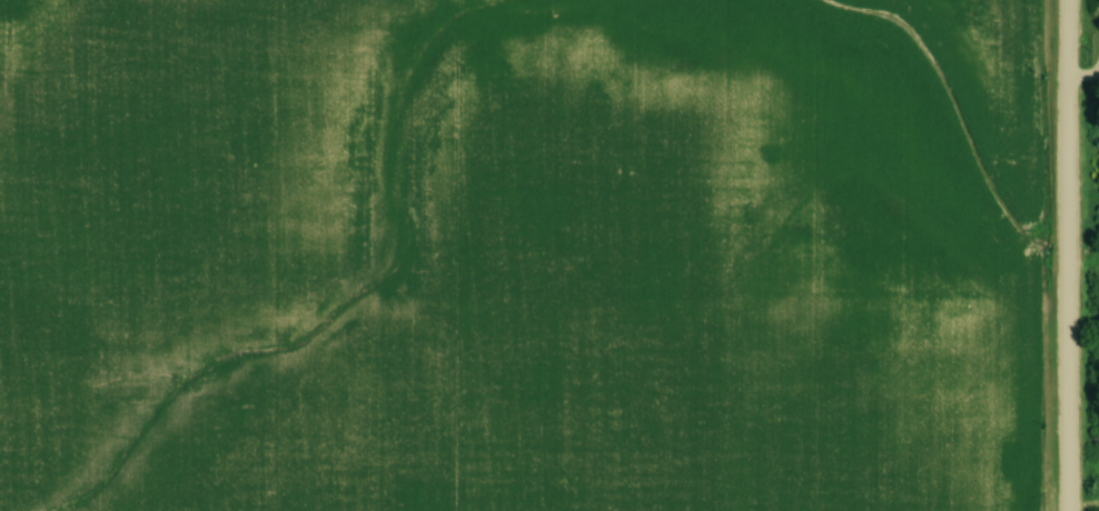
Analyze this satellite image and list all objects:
road: (1060, 255)

